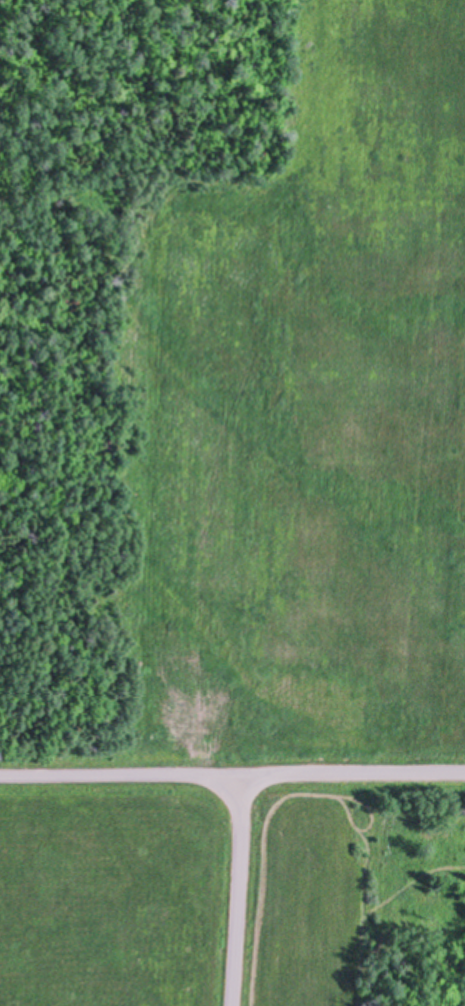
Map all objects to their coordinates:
road: (354, 775)
road: (122, 777)
road: (237, 891)

